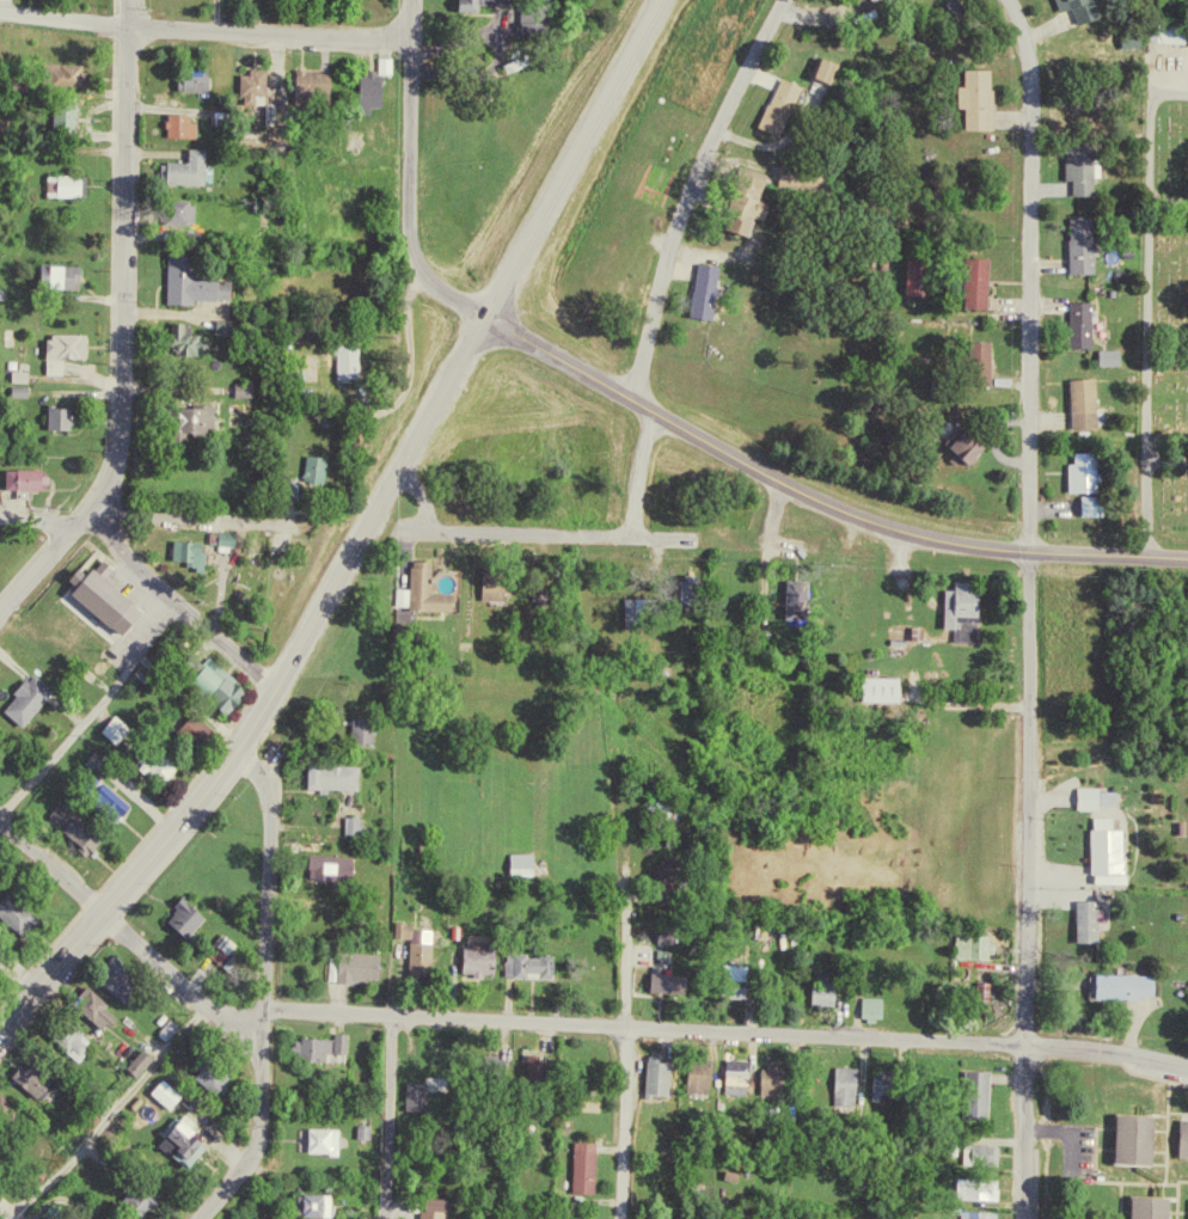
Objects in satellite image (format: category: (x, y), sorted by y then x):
building: (886, 0)
building: (488, 4)
building: (1074, 7)
road: (62, 19)
building: (543, 19)
road: (268, 31)
building: (1166, 31)
building: (834, 67)
building: (822, 68)
building: (65, 75)
building: (198, 75)
building: (316, 85)
building: (264, 87)
building: (373, 90)
building: (972, 98)
building: (774, 104)
building: (790, 105)
building: (66, 117)
building: (184, 122)
road: (409, 136)
building: (191, 166)
building: (1074, 167)
building: (67, 185)
road: (688, 191)
building: (742, 197)
road: (1166, 200)
building: (763, 201)
building: (180, 210)
building: (1077, 243)
building: (60, 274)
building: (969, 280)
building: (194, 281)
building: (700, 287)
building: (715, 290)
park: (1161, 292)
road: (452, 294)
road: (1143, 306)
building: (1074, 321)
road: (122, 324)
building: (196, 338)
road: (1165, 344)
building: (65, 349)
building: (1104, 355)
building: (975, 360)
building: (29, 375)
building: (253, 388)
building: (1078, 402)
building: (60, 416)
building: (212, 419)
building: (962, 443)
road: (1165, 457)
building: (325, 467)
road: (637, 470)
building: (1078, 470)
building: (25, 477)
road: (816, 497)
road: (39, 515)
road: (165, 515)
road: (515, 531)
building: (216, 533)
road: (363, 537)
building: (237, 541)
building: (185, 549)
building: (504, 583)
building: (798, 589)
building: (433, 590)
building: (97, 596)
road: (177, 604)
road: (1028, 607)
building: (965, 609)
building: (644, 612)
building: (232, 684)
building: (883, 688)
building: (25, 694)
building: (37, 699)
road: (88, 706)
building: (125, 729)
building: (372, 731)
building: (167, 764)
building: (344, 777)
building: (1097, 797)
building: (362, 825)
building: (85, 827)
building: (1108, 846)
building: (532, 864)
building: (341, 868)
building: (27, 912)
building: (14, 914)
building: (195, 915)
building: (1090, 920)
building: (676, 935)
building: (984, 945)
building: (427, 947)
building: (489, 957)
building: (539, 963)
building: (368, 966)
building: (679, 981)
building: (131, 982)
building: (1134, 985)
road: (263, 988)
building: (832, 992)
building: (103, 1006)
building: (881, 1007)
road: (558, 1022)
building: (80, 1039)
building: (325, 1046)
road: (625, 1059)
building: (149, 1061)
building: (546, 1066)
building: (709, 1074)
building: (668, 1076)
building: (746, 1076)
building: (222, 1078)
building: (44, 1079)
building: (783, 1079)
building: (889, 1084)
building: (177, 1092)
building: (987, 1094)
building: (425, 1096)
road: (109, 1109)
road: (388, 1116)
building: (373, 1131)
building: (1128, 1135)
building: (1180, 1135)
building: (332, 1139)
building: (190, 1140)
building: (988, 1153)
building: (593, 1165)
building: (740, 1175)
building: (987, 1188)
building: (149, 1195)
building: (326, 1203)
building: (1150, 1206)
building: (447, 1208)
building: (1187, 1208)
road: (1051, 1209)
road: (8, 1211)
building: (987, 1214)

